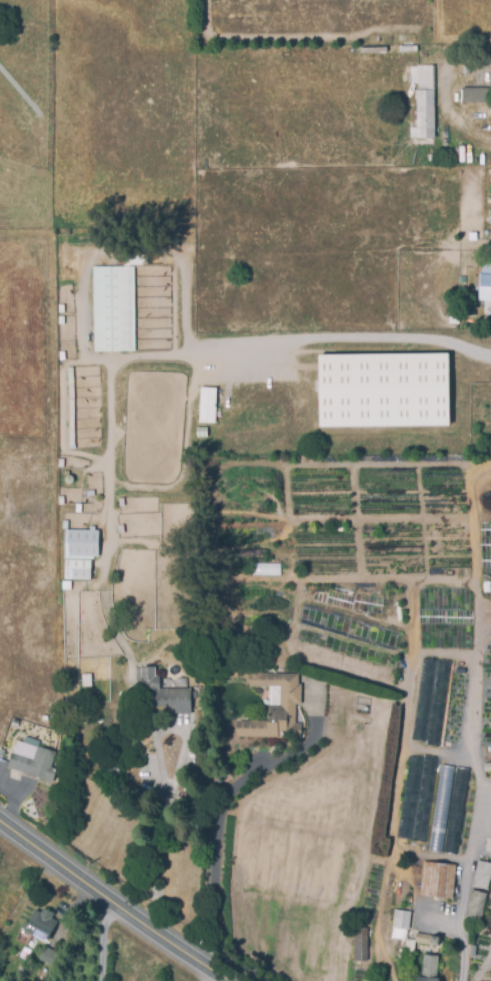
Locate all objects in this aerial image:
road: (445, 64)
building: (466, 69)
building: (476, 95)
building: (421, 104)
building: (486, 265)
building: (485, 287)
building: (112, 308)
building: (58, 320)
road: (353, 338)
building: (385, 389)
building: (207, 405)
building: (70, 406)
building: (490, 413)
building: (201, 432)
building: (61, 463)
building: (89, 494)
building: (61, 501)
building: (84, 518)
building: (64, 522)
building: (120, 529)
building: (233, 535)
building: (81, 543)
building: (76, 570)
road: (105, 591)
building: (163, 693)
building: (288, 713)
building: (32, 761)
building: (487, 767)
building: (409, 806)
building: (446, 809)
road: (218, 834)
building: (483, 876)
building: (437, 881)
road: (466, 893)
road: (128, 896)
building: (476, 906)
building: (402, 920)
building: (41, 926)
road: (101, 933)
building: (428, 940)
building: (360, 945)
building: (473, 951)
building: (47, 957)
road: (206, 966)
building: (430, 969)

